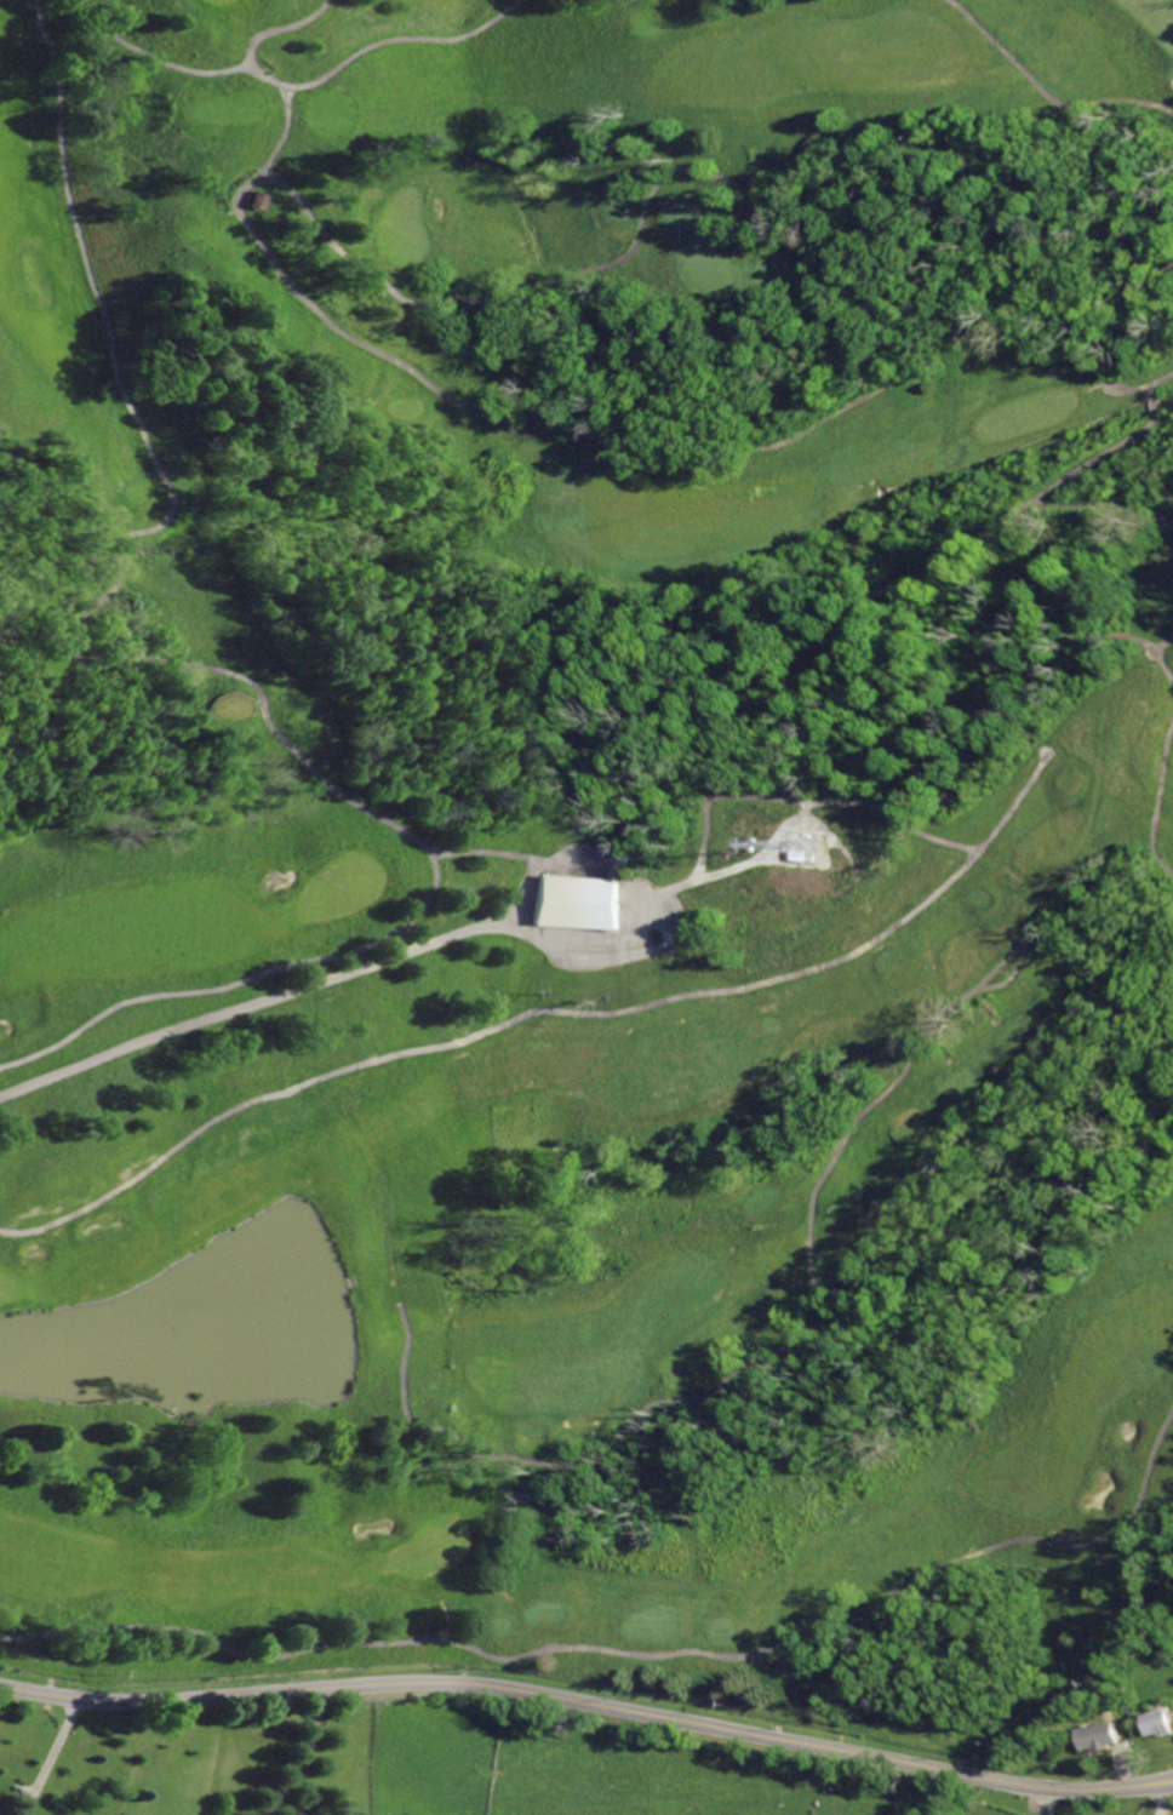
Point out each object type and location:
road: (280, 30)
road: (402, 39)
road: (229, 68)
road: (1043, 87)
road: (709, 176)
building: (262, 200)
road: (1146, 403)
road: (700, 447)
road: (1108, 506)
road: (856, 648)
road: (1171, 651)
road: (1171, 662)
road: (164, 664)
road: (1158, 797)
road: (816, 801)
road: (1012, 802)
building: (808, 847)
road: (487, 853)
park: (588, 854)
road: (744, 868)
building: (578, 900)
road: (1015, 979)
road: (267, 1003)
road: (643, 1004)
road: (733, 1369)
road: (626, 1653)
road: (589, 1706)
building: (1160, 1722)
building: (1102, 1736)
road: (48, 1757)
road: (302, 1757)
crop: (616, 1764)
road: (1051, 1803)

